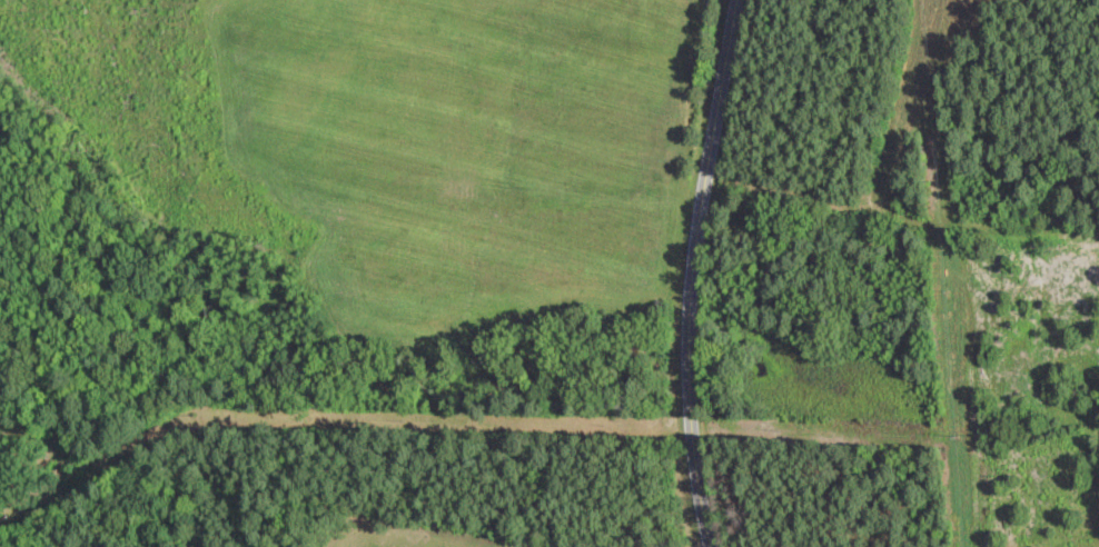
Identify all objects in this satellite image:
road: (694, 272)

